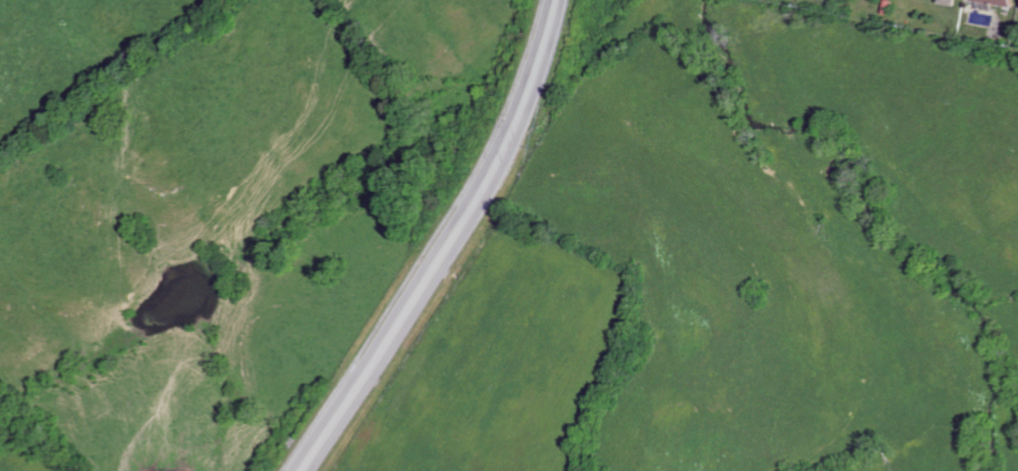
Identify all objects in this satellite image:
building: (952, 2)
building: (1004, 2)
road: (452, 244)

